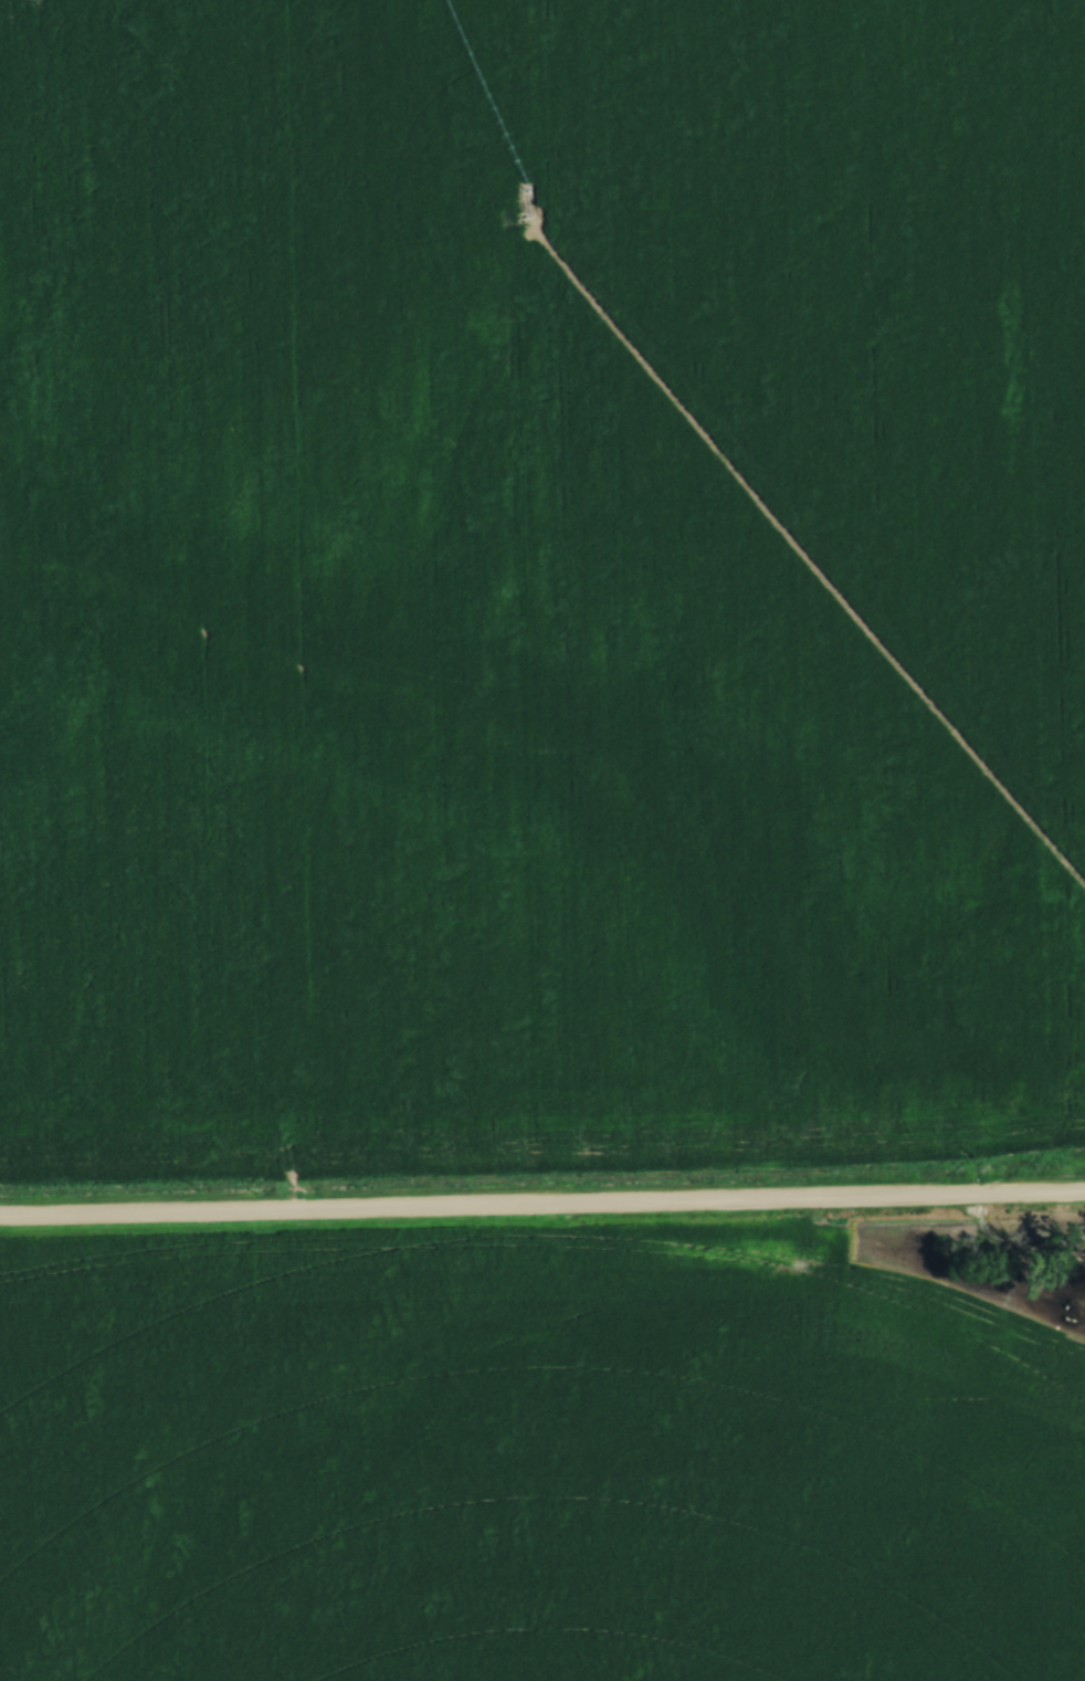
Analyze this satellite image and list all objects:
road: (541, 1208)

